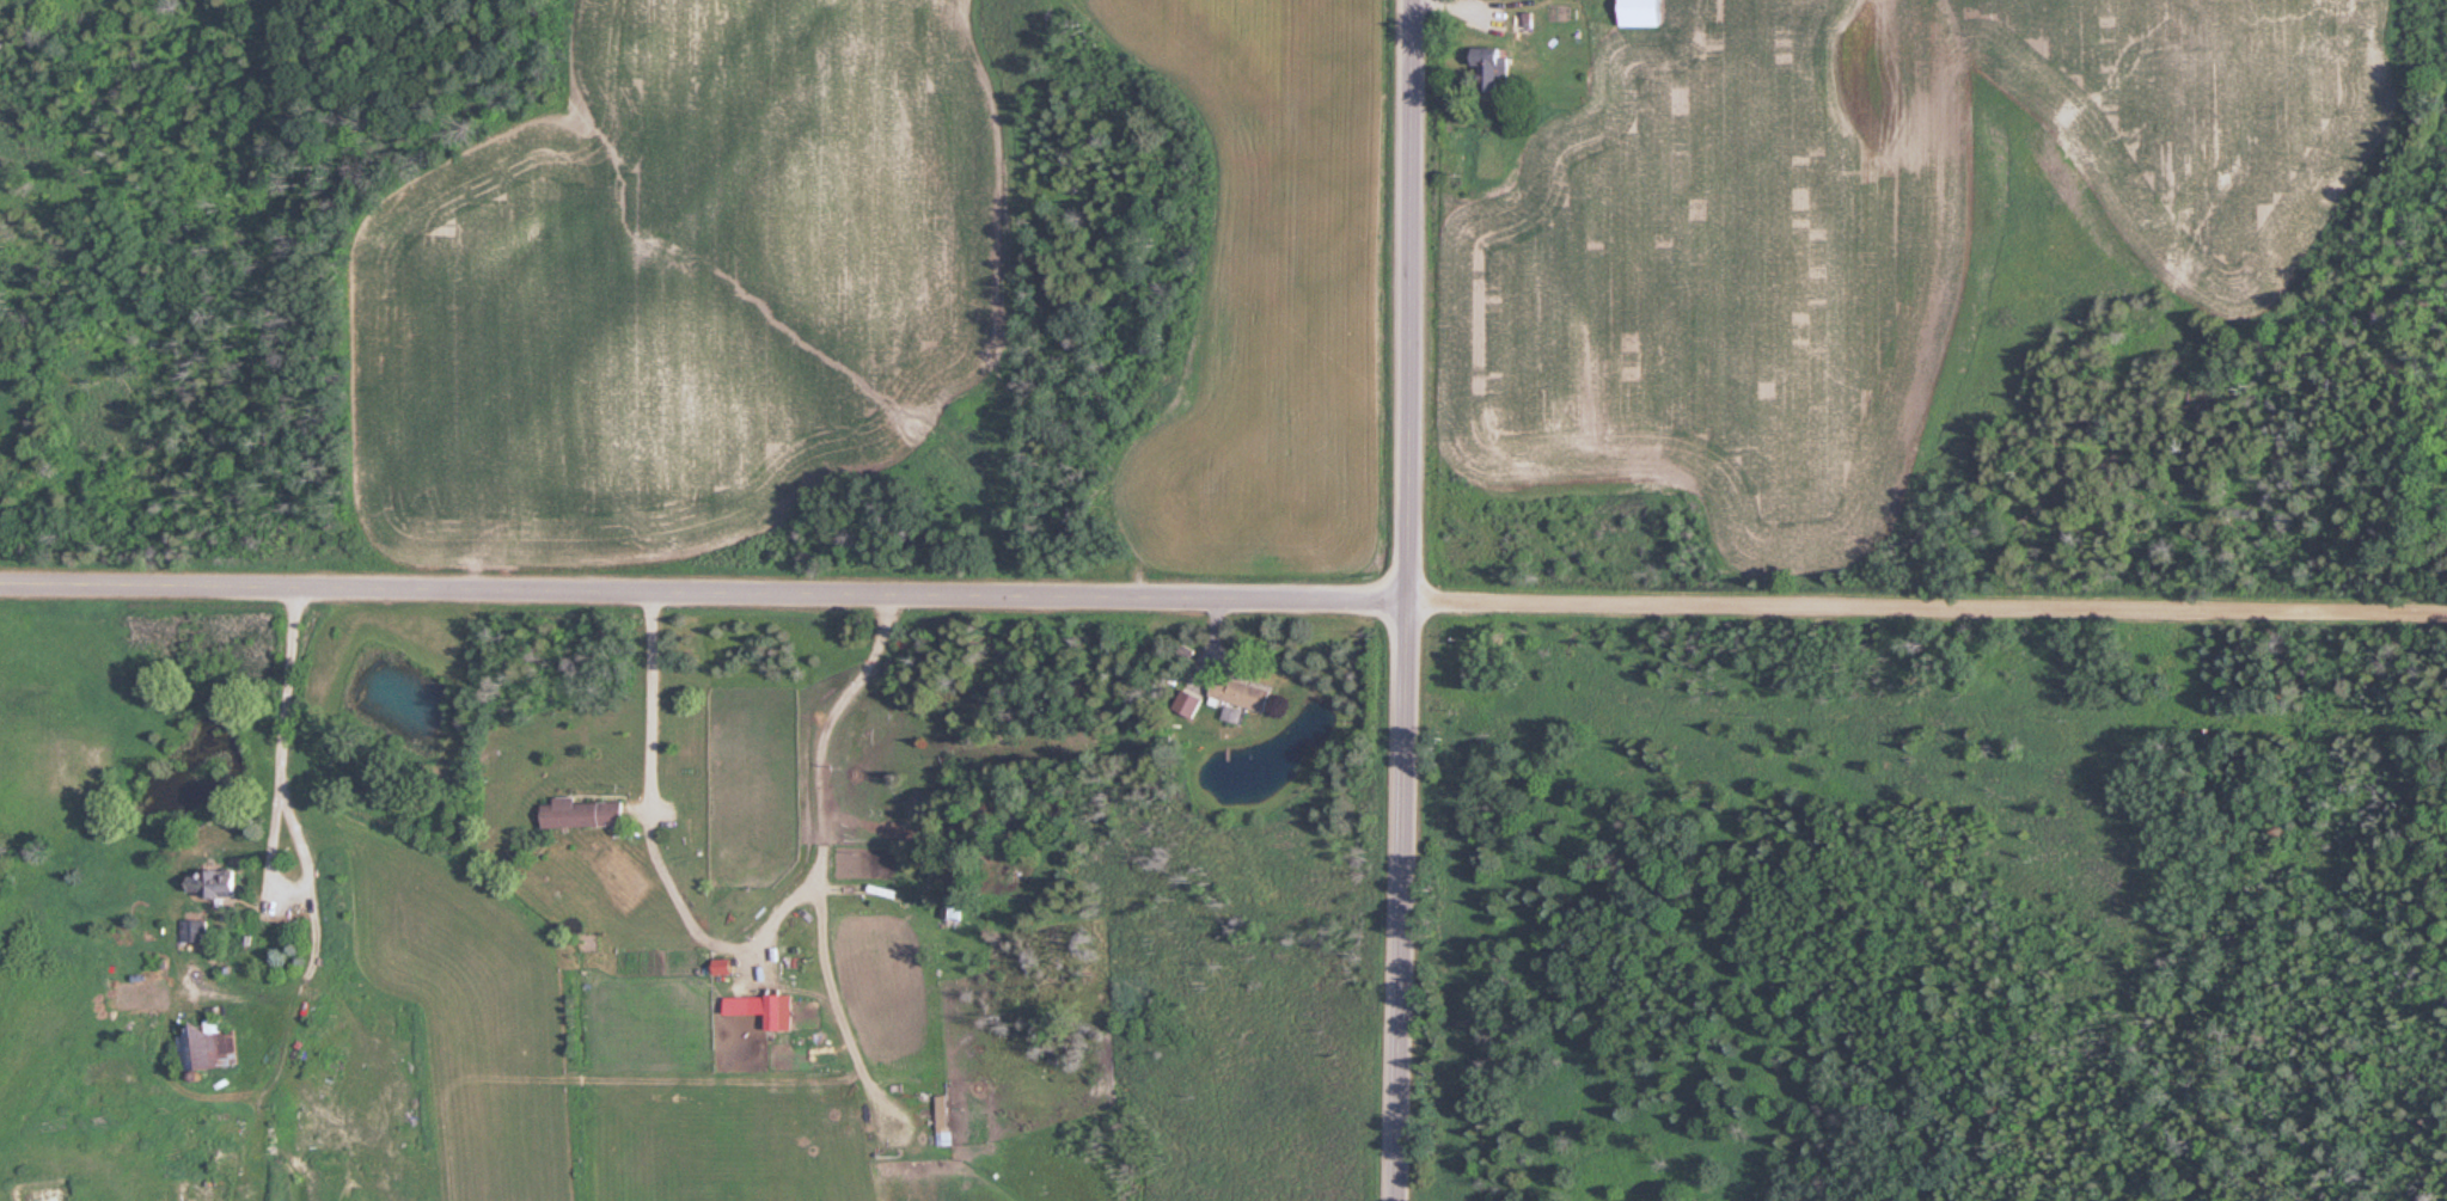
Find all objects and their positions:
building: (1648, 13)
building: (1497, 67)
road: (1409, 300)
road: (703, 589)
road: (1927, 607)
building: (1246, 693)
building: (587, 814)
building: (221, 884)
road: (1401, 901)
building: (197, 932)
building: (213, 1047)

